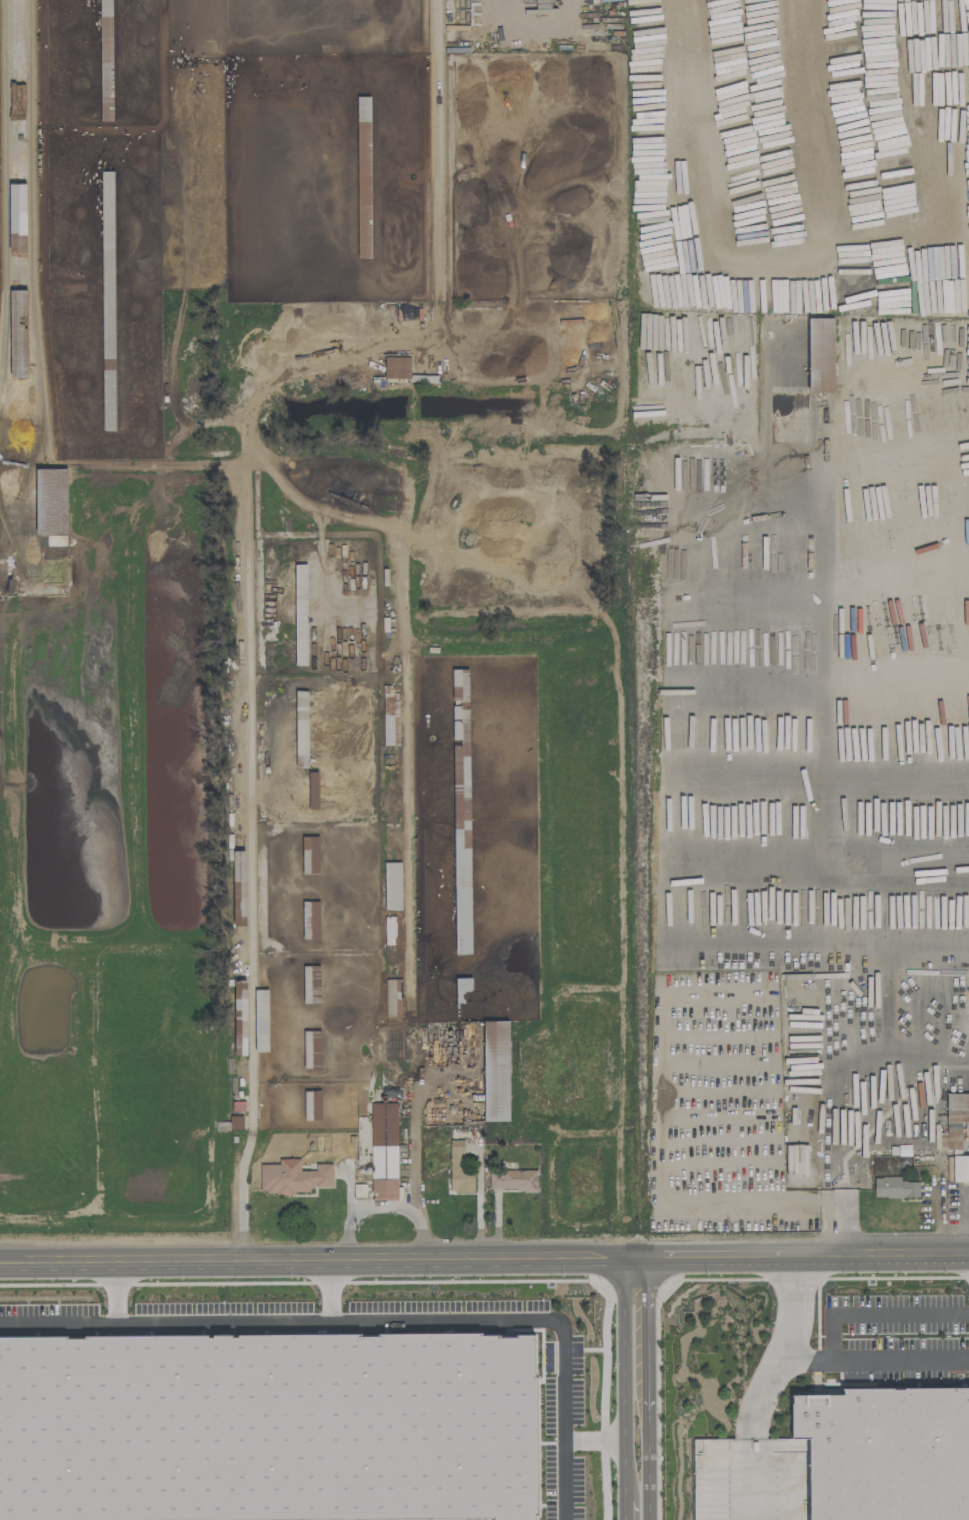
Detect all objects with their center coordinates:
road: (437, 147)
building: (363, 177)
building: (17, 217)
building: (107, 300)
building: (18, 333)
building: (820, 355)
building: (396, 367)
building: (50, 501)
building: (300, 614)
building: (390, 716)
building: (301, 729)
building: (312, 790)
building: (461, 808)
building: (309, 855)
building: (392, 885)
building: (238, 888)
road: (255, 919)
building: (310, 920)
building: (388, 930)
building: (463, 983)
building: (311, 984)
building: (393, 997)
building: (250, 1019)
building: (311, 1049)
building: (495, 1071)
building: (312, 1105)
building: (954, 1121)
building: (235, 1122)
building: (383, 1151)
building: (960, 1168)
building: (458, 1170)
building: (293, 1177)
building: (512, 1180)
building: (894, 1187)
building: (359, 1190)
road: (388, 1206)
road: (966, 1216)
road: (795, 1248)
road: (311, 1253)
road: (332, 1282)
road: (115, 1283)
road: (792, 1302)
road: (383, 1311)
road: (877, 1313)
road: (874, 1359)
road: (624, 1384)
road: (645, 1385)
road: (596, 1430)
road: (754, 1434)
building: (882, 1446)

